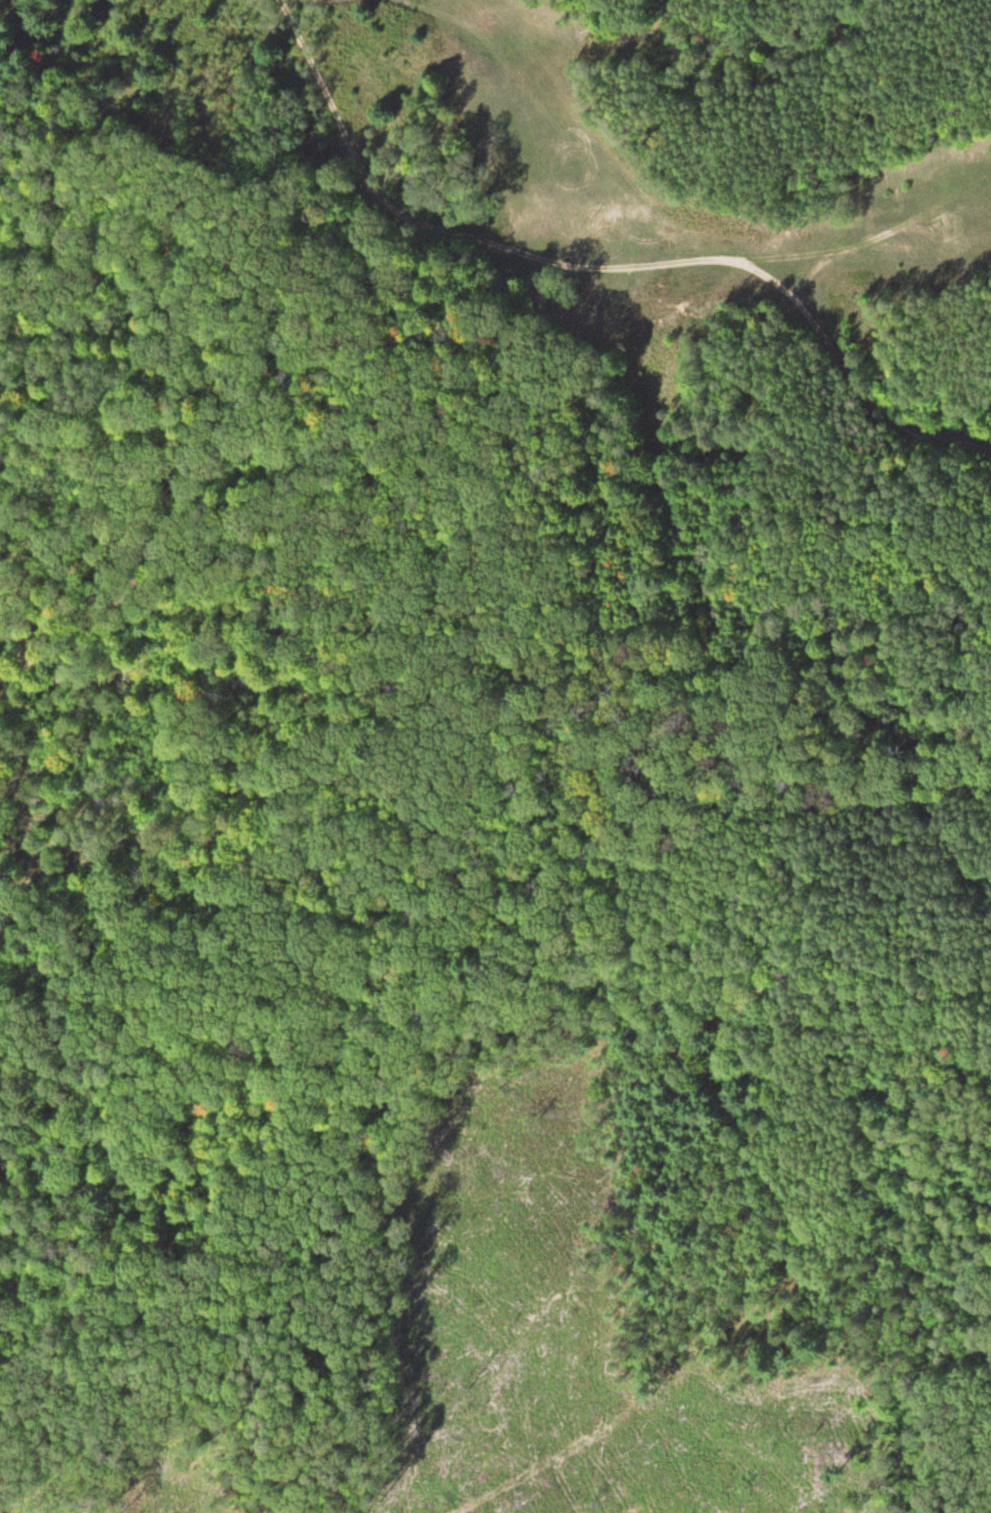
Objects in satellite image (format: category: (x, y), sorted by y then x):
road: (615, 265)

